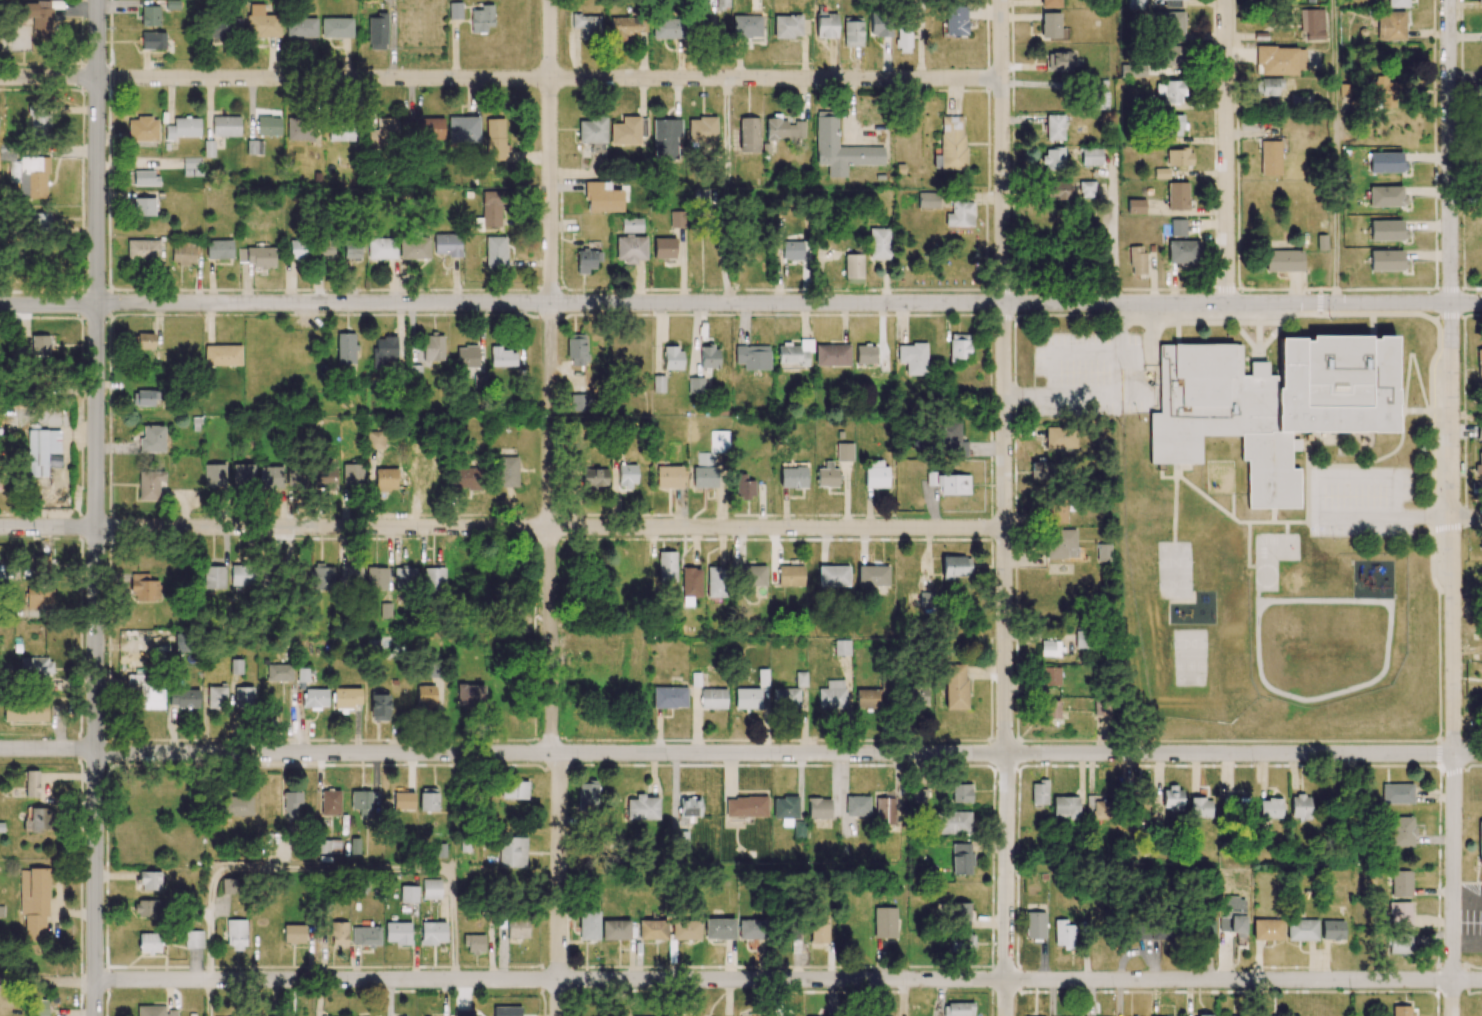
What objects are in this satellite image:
park: (2, 0)
building: (1479, 1)
building: (1050, 3)
building: (1171, 3)
building: (1397, 3)
building: (722, 4)
building: (1135, 4)
building: (454, 10)
building: (149, 15)
building: (37, 16)
building: (482, 18)
building: (955, 21)
building: (261, 22)
building: (825, 23)
building: (879, 23)
building: (1312, 23)
building: (587, 25)
building: (1050, 25)
building: (1390, 25)
building: (746, 26)
building: (787, 26)
building: (1174, 26)
building: (225, 27)
building: (301, 27)
building: (336, 27)
building: (626, 27)
building: (668, 28)
building: (852, 31)
building: (377, 32)
building: (903, 39)
building: (153, 40)
building: (1171, 55)
building: (1280, 60)
building: (1060, 61)
building: (1133, 70)
road: (500, 78)
building: (1270, 86)
building: (1170, 91)
building: (1386, 93)
building: (1299, 99)
building: (1100, 100)
building: (40, 125)
building: (1175, 125)
building: (225, 126)
building: (268, 126)
building: (1055, 127)
building: (182, 128)
building: (463, 128)
building: (142, 129)
building: (299, 129)
building: (430, 129)
building: (702, 129)
building: (784, 129)
building: (592, 130)
building: (628, 131)
building: (386, 132)
building: (340, 133)
building: (749, 134)
building: (666, 138)
building: (495, 139)
building: (952, 143)
building: (254, 147)
building: (840, 148)
road: (1226, 151)
road: (97, 152)
building: (1091, 156)
building: (1178, 157)
building: (1270, 157)
building: (1053, 159)
building: (1385, 162)
building: (191, 166)
building: (1161, 173)
building: (30, 176)
building: (142, 178)
building: (1086, 189)
building: (1058, 190)
road: (725, 191)
building: (1177, 195)
building: (1386, 196)
building: (602, 198)
building: (700, 198)
building: (928, 200)
building: (143, 206)
building: (1135, 206)
building: (491, 208)
building: (960, 214)
building: (677, 219)
building: (40, 222)
building: (631, 225)
building: (1177, 227)
building: (1386, 230)
building: (879, 243)
building: (446, 244)
building: (381, 248)
building: (414, 248)
building: (630, 248)
building: (664, 248)
building: (143, 249)
building: (218, 249)
building: (297, 249)
building: (351, 250)
building: (792, 250)
building: (183, 252)
building: (495, 252)
building: (1182, 252)
building: (255, 256)
building: (586, 260)
building: (1137, 260)
building: (1282, 260)
building: (1386, 260)
building: (853, 266)
road: (789, 303)
road: (48, 305)
building: (143, 341)
building: (41, 344)
building: (432, 347)
building: (959, 347)
building: (345, 348)
building: (576, 348)
road: (1061, 349)
building: (383, 351)
building: (794, 353)
building: (865, 354)
building: (222, 355)
building: (832, 355)
building: (466, 356)
building: (708, 356)
building: (501, 357)
building: (672, 357)
building: (752, 357)
building: (913, 358)
building: (1479, 363)
building: (479, 381)
building: (658, 384)
building: (696, 385)
building: (144, 398)
building: (578, 402)
building: (1269, 404)
building: (1479, 430)
building: (1060, 437)
building: (951, 438)
building: (151, 439)
building: (375, 440)
building: (719, 441)
building: (40, 450)
building: (844, 452)
building: (705, 459)
building: (1478, 464)
building: (1041, 470)
building: (507, 471)
building: (876, 473)
building: (214, 475)
building: (242, 475)
building: (352, 475)
building: (626, 475)
building: (827, 475)
building: (296, 476)
building: (271, 477)
building: (326, 477)
building: (593, 477)
building: (668, 477)
building: (704, 477)
building: (793, 477)
building: (2, 479)
building: (385, 479)
building: (466, 479)
building: (149, 484)
building: (949, 484)
building: (747, 490)
road: (1319, 504)
road: (1004, 507)
road: (1452, 507)
road: (550, 509)
building: (1057, 512)
road: (1467, 517)
road: (502, 527)
building: (1061, 543)
building: (1103, 552)
building: (40, 562)
building: (666, 566)
building: (955, 567)
building: (300, 574)
building: (241, 575)
building: (267, 575)
building: (347, 575)
building: (790, 575)
building: (872, 575)
building: (753, 576)
building: (833, 576)
building: (214, 577)
building: (322, 577)
building: (405, 577)
building: (376, 578)
building: (433, 579)
building: (715, 582)
building: (689, 585)
building: (144, 588)
building: (38, 597)
building: (926, 599)
building: (385, 610)
building: (1082, 638)
building: (842, 647)
building: (1051, 648)
road: (95, 659)
building: (236, 666)
building: (35, 667)
building: (279, 672)
building: (302, 675)
building: (1050, 676)
building: (762, 677)
building: (801, 679)
building: (886, 686)
building: (955, 686)
building: (144, 692)
building: (919, 694)
building: (470, 695)
building: (832, 695)
building: (426, 696)
building: (183, 697)
building: (243, 697)
building: (347, 697)
building: (669, 697)
building: (216, 698)
building: (314, 698)
building: (747, 698)
building: (785, 698)
building: (713, 699)
building: (867, 699)
building: (379, 706)
building: (1102, 706)
building: (1052, 709)
building: (25, 712)
road: (740, 753)
building: (31, 783)
building: (514, 790)
building: (1039, 792)
building: (961, 793)
building: (1396, 794)
building: (587, 796)
building: (920, 797)
building: (403, 799)
building: (428, 799)
building: (1175, 801)
building: (330, 802)
building: (361, 802)
building: (291, 804)
building: (236, 805)
building: (857, 805)
building: (1236, 805)
building: (690, 806)
building: (746, 806)
building: (1299, 806)
building: (785, 807)
building: (1066, 807)
building: (1200, 807)
building: (642, 808)
building: (818, 808)
building: (1097, 808)
building: (1269, 808)
building: (885, 811)
building: (1139, 812)
building: (38, 820)
building: (953, 822)
building: (1, 827)
building: (798, 830)
building: (1401, 831)
building: (680, 839)
building: (1480, 842)
building: (328, 846)
building: (355, 846)
building: (440, 850)
building: (512, 852)
building: (961, 859)
building: (150, 880)
building: (1400, 884)
building: (228, 886)
building: (431, 889)
building: (408, 894)
building: (34, 902)
building: (148, 907)
building: (960, 911)
building: (1399, 913)
building: (885, 922)
building: (1232, 922)
building: (588, 925)
building: (1035, 925)
building: (719, 928)
building: (1209, 928)
building: (516, 929)
building: (652, 929)
building: (751, 929)
building: (819, 929)
building: (1267, 929)
building: (615, 930)
building: (685, 930)
building: (1154, 930)
building: (1301, 930)
building: (1332, 930)
building: (397, 932)
building: (433, 932)
building: (293, 934)
building: (339, 934)
building: (1064, 934)
building: (235, 935)
building: (365, 935)
building: (193, 939)
building: (967, 942)
building: (148, 943)
building: (474, 944)
building: (1398, 944)
road: (740, 980)
road: (208, 998)
building: (39, 1007)
building: (958, 1009)
building: (154, 1011)
building: (506, 1011)
building: (1400, 1011)
building: (463, 1013)
building: (1203, 1015)

